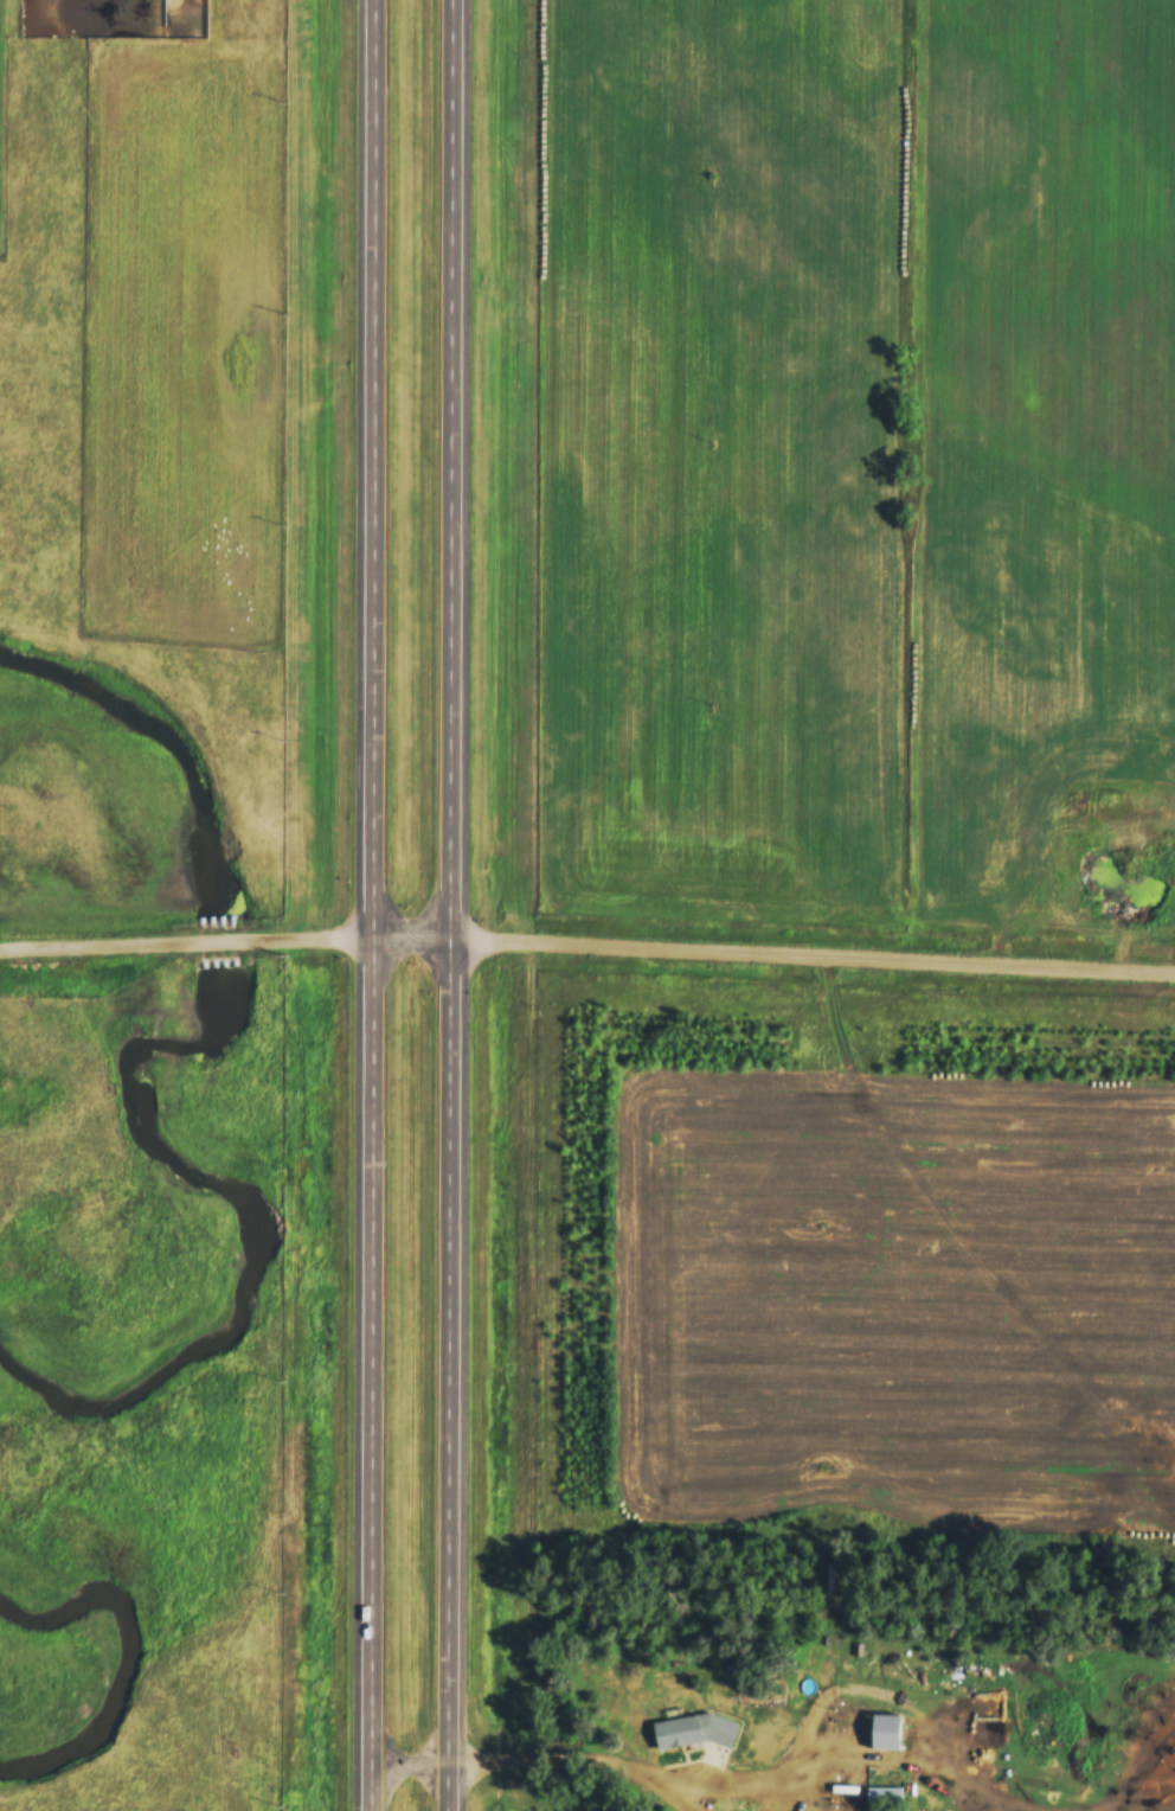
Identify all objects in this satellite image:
building: (1092, 568)
river: (162, 730)
road: (1059, 895)
road: (374, 904)
road: (456, 905)
river: (220, 941)
road: (587, 946)
river: (262, 1239)
crop: (893, 1291)
river: (130, 1657)
building: (680, 1732)
road: (542, 1764)
road: (744, 1791)
building: (885, 1794)

